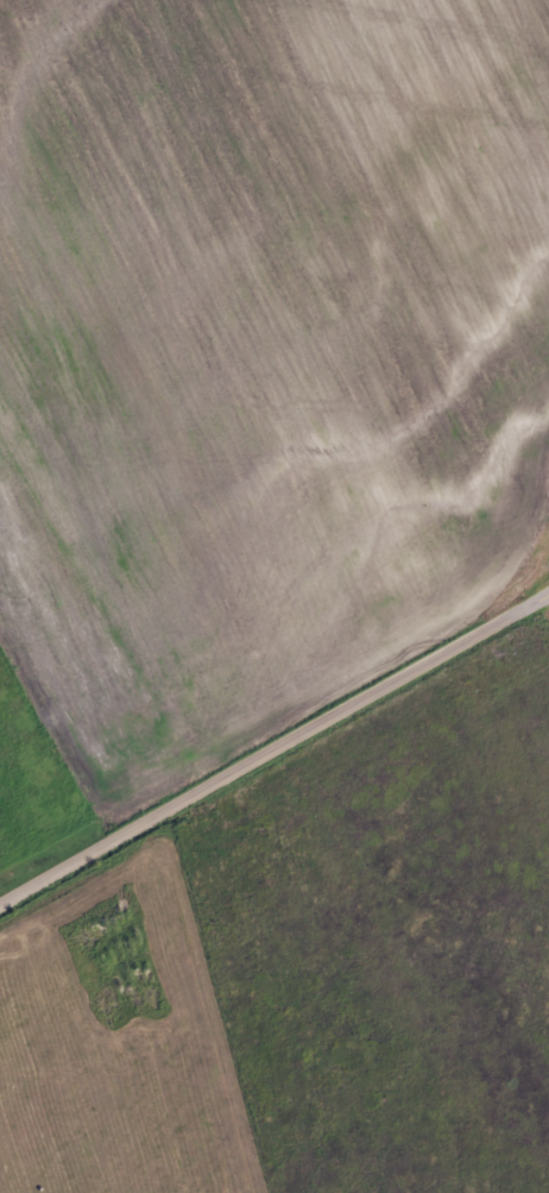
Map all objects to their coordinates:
road: (273, 747)

